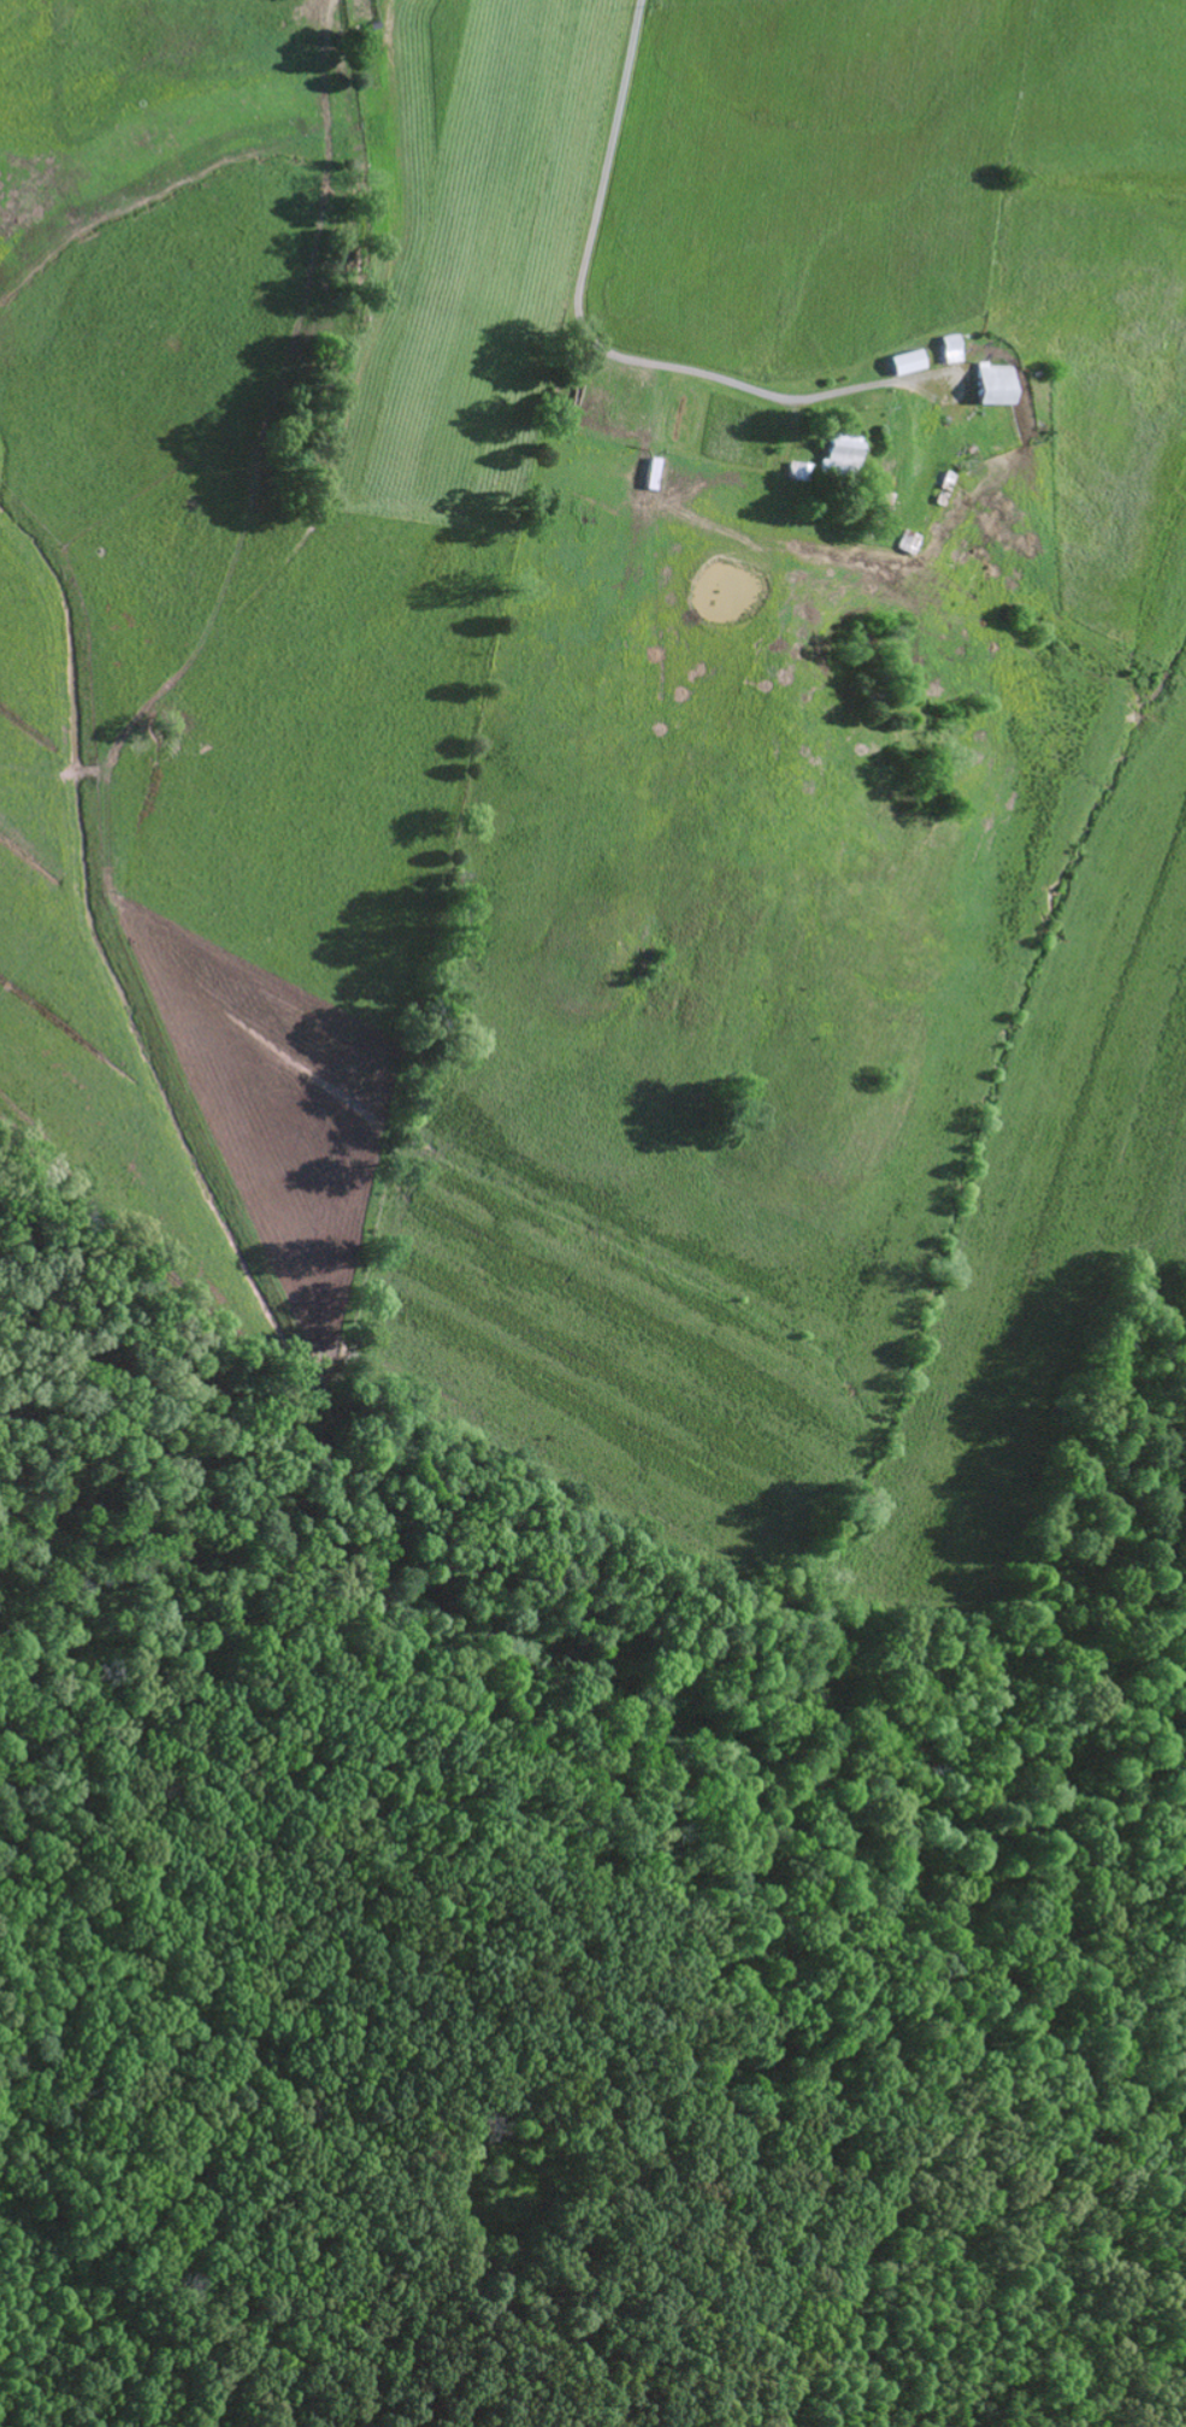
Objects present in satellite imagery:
road: (584, 329)
building: (949, 342)
building: (905, 362)
building: (993, 380)
building: (843, 445)
building: (799, 471)
building: (944, 484)
building: (883, 494)
building: (905, 538)

